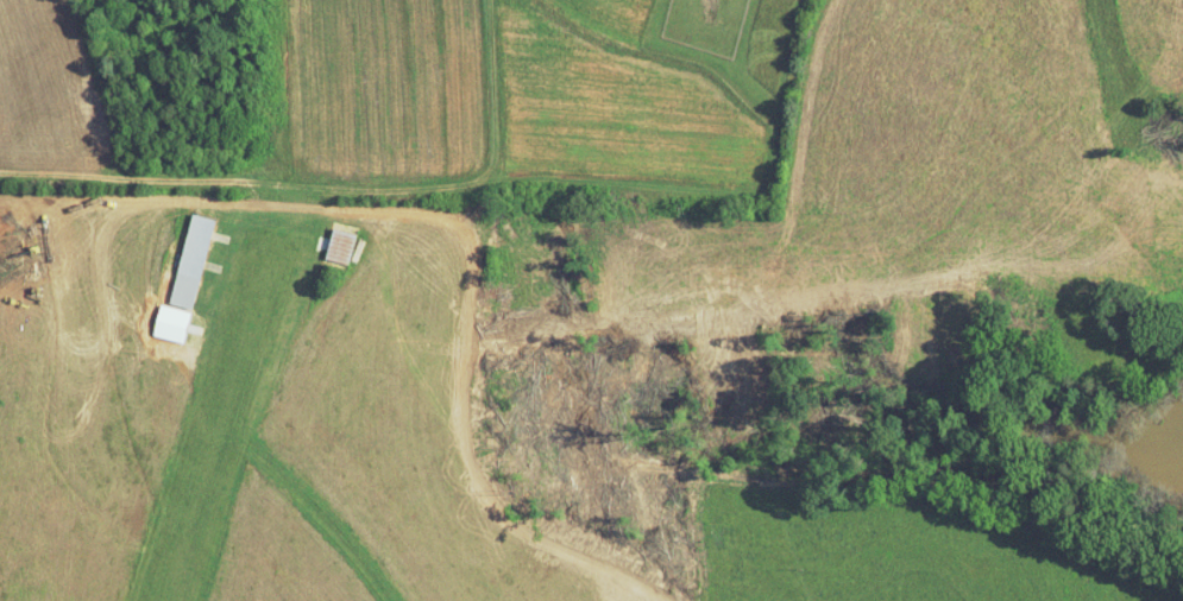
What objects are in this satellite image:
building: (325, 238)
building: (175, 253)

